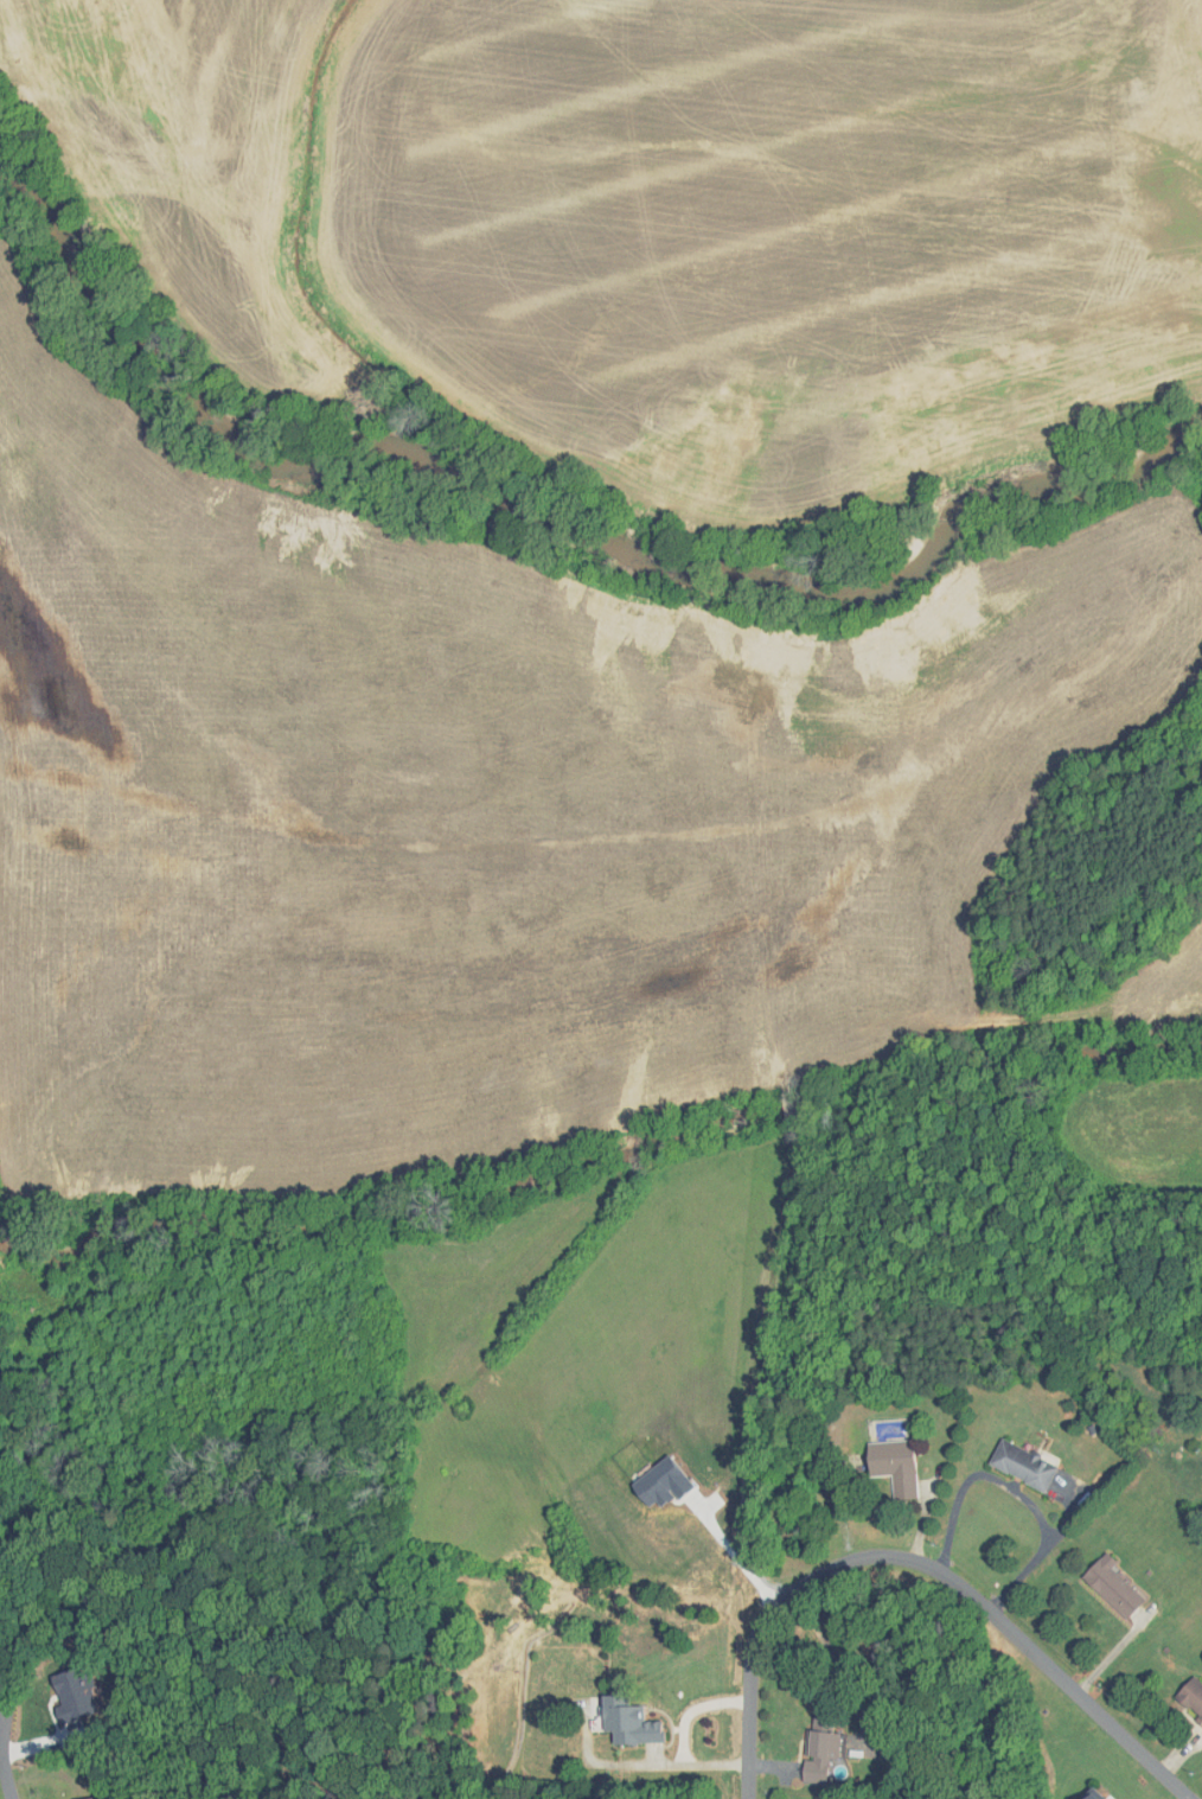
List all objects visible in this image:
building: (888, 1465)
building: (1018, 1465)
road: (1017, 1492)
road: (921, 1564)
building: (1108, 1587)
building: (1190, 1699)
building: (626, 1722)
building: (817, 1755)
road: (6, 1772)
building: (1088, 1794)
building: (88, 1798)

